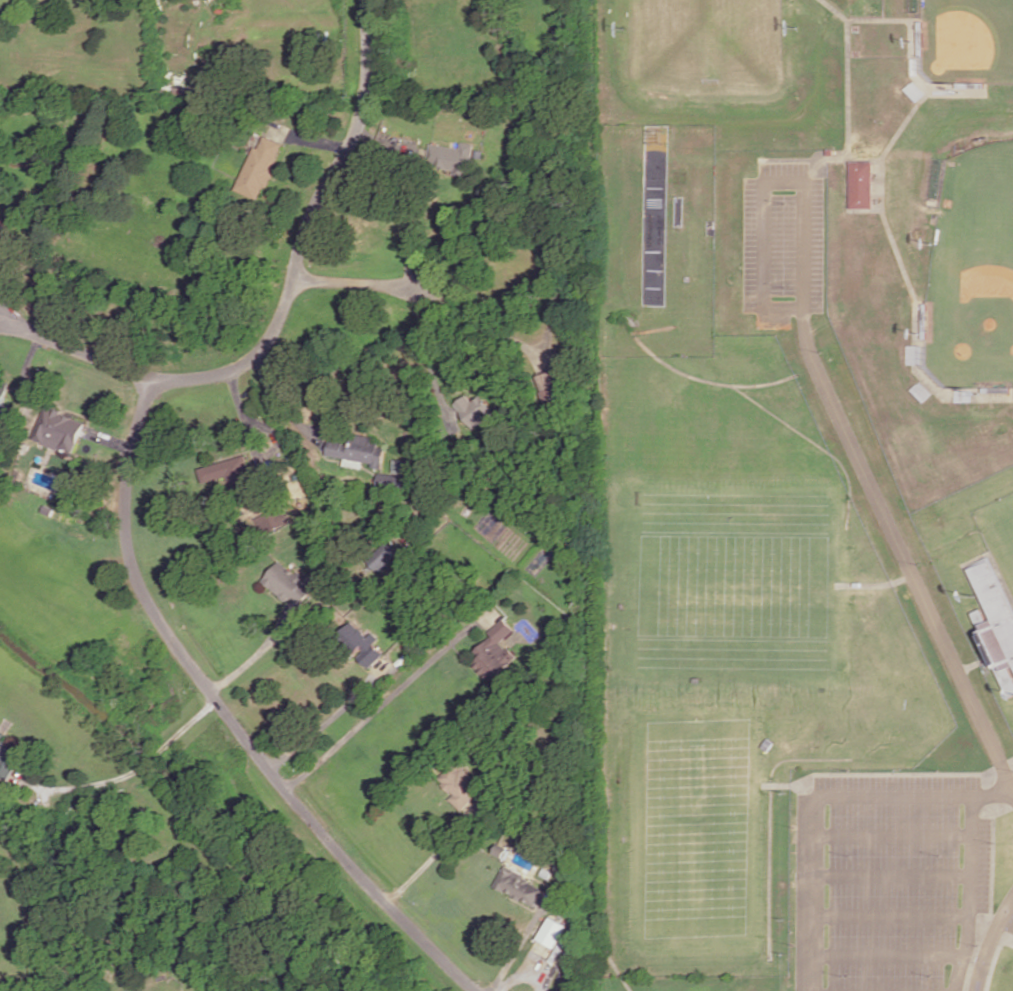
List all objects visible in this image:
park: (970, 41)
road: (318, 139)
building: (481, 151)
building: (455, 155)
building: (260, 166)
building: (861, 185)
road: (305, 231)
road: (409, 236)
parking lot: (781, 245)
park: (975, 270)
road: (359, 283)
road: (486, 326)
road: (75, 348)
road: (26, 376)
building: (552, 381)
road: (270, 393)
road: (1012, 401)
building: (474, 409)
road: (265, 420)
building: (58, 430)
road: (110, 438)
building: (361, 447)
building: (230, 470)
building: (49, 508)
building: (276, 517)
building: (384, 554)
road: (904, 557)
building: (289, 580)
building: (995, 619)
building: (366, 640)
building: (495, 649)
road: (256, 652)
road: (387, 697)
road: (229, 716)
road: (329, 717)
building: (9, 753)
road: (1012, 760)
road: (126, 772)
building: (461, 781)
road: (819, 799)
road: (892, 836)
building: (501, 848)
road: (436, 851)
building: (546, 871)
road: (892, 877)
parking lot: (887, 882)
building: (519, 884)
road: (969, 894)
road: (891, 917)
parking lot: (1009, 925)
building: (553, 929)
road: (519, 942)
road: (990, 942)
road: (1012, 942)
road: (889, 957)
road: (995, 960)
road: (527, 966)

